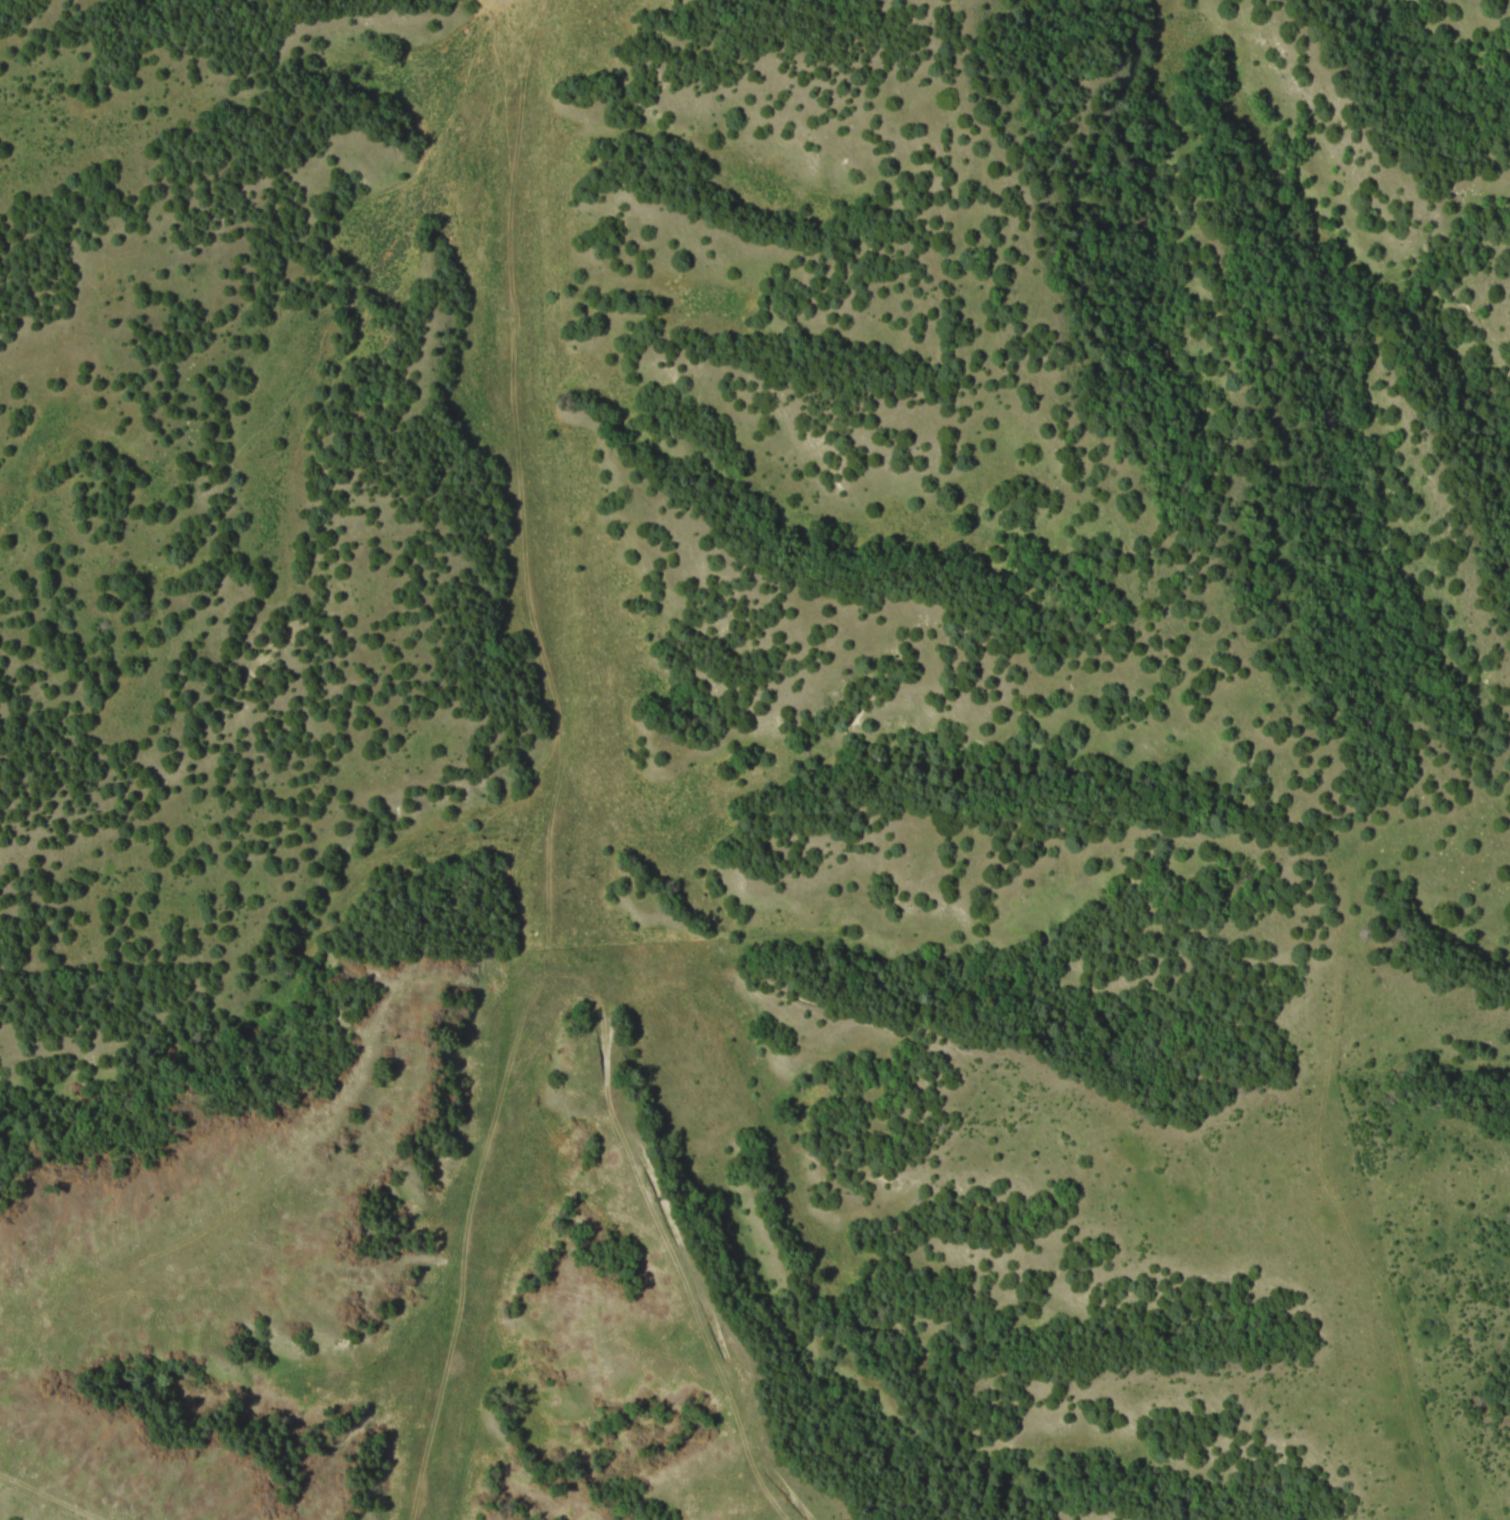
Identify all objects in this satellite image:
road: (1405, 1372)

